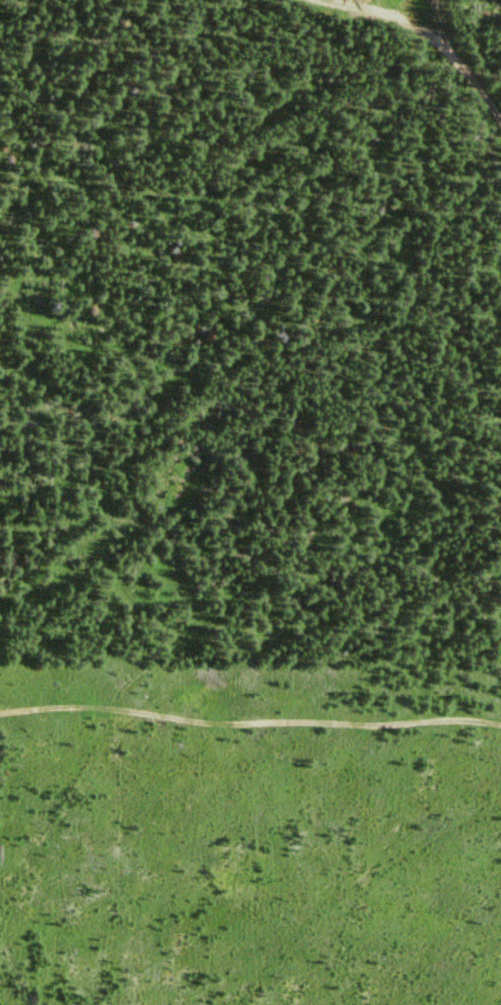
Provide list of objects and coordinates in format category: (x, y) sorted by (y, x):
road: (430, 45)
road: (249, 723)

